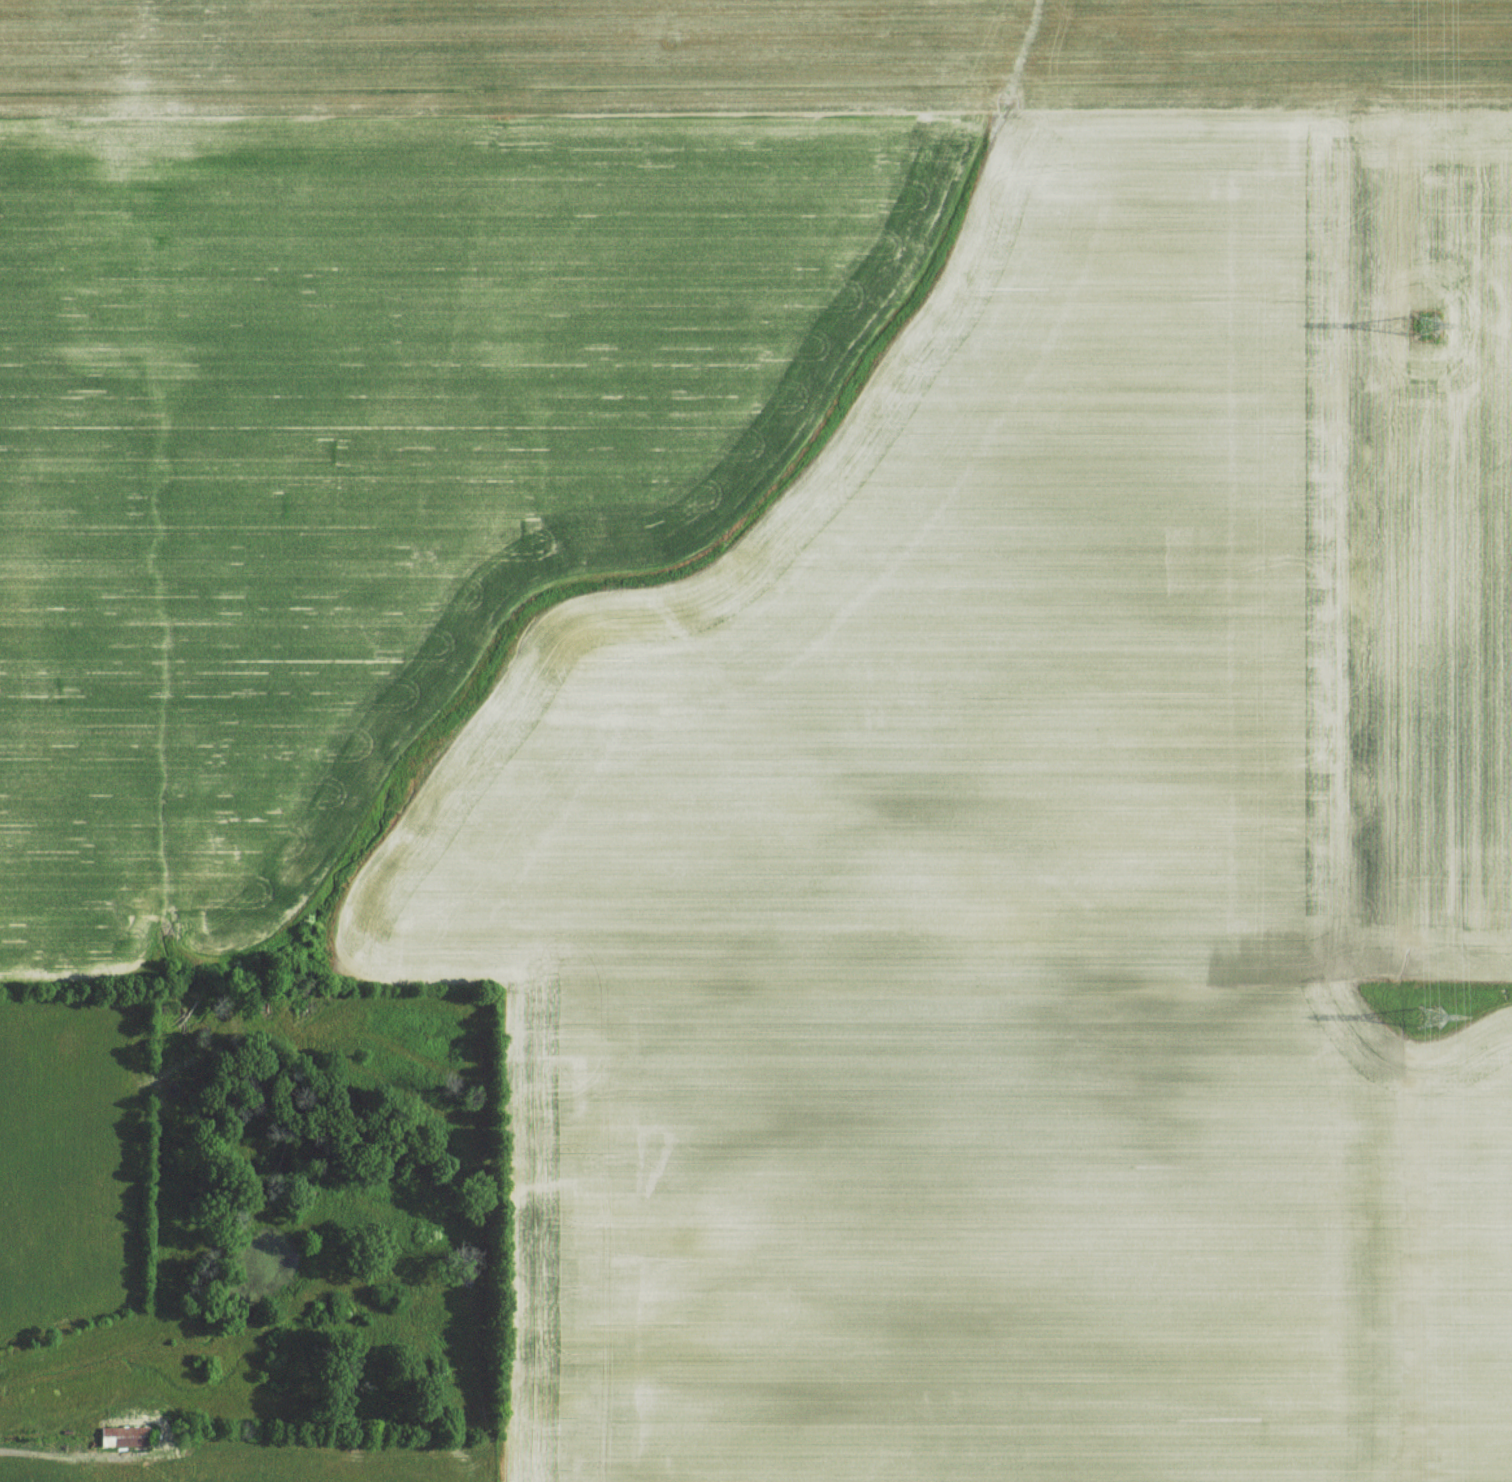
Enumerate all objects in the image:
power tower: (1426, 329)
power tower: (1433, 1018)
building: (122, 1435)
road: (56, 1456)

